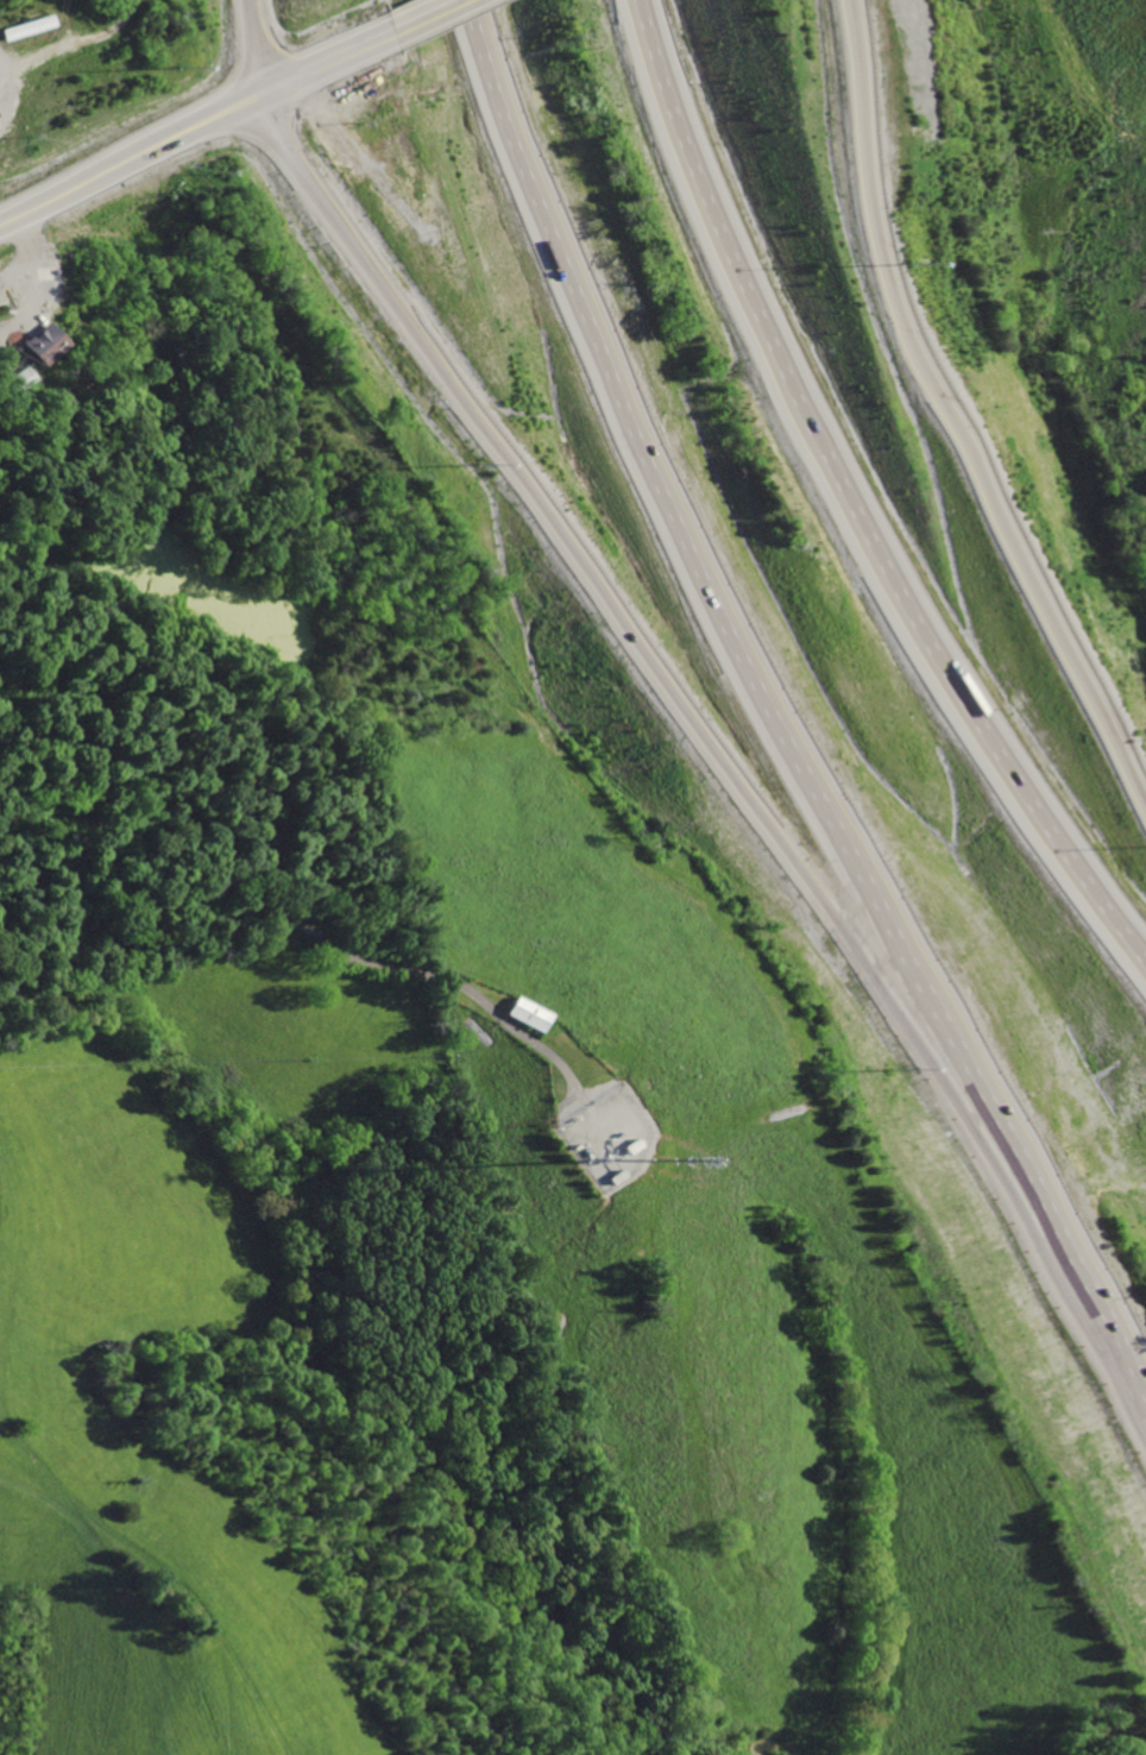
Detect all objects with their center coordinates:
road: (423, 17)
road: (90, 40)
road: (250, 49)
road: (14, 78)
road: (193, 130)
building: (31, 344)
road: (944, 422)
road: (854, 503)
road: (775, 736)
road: (722, 767)

